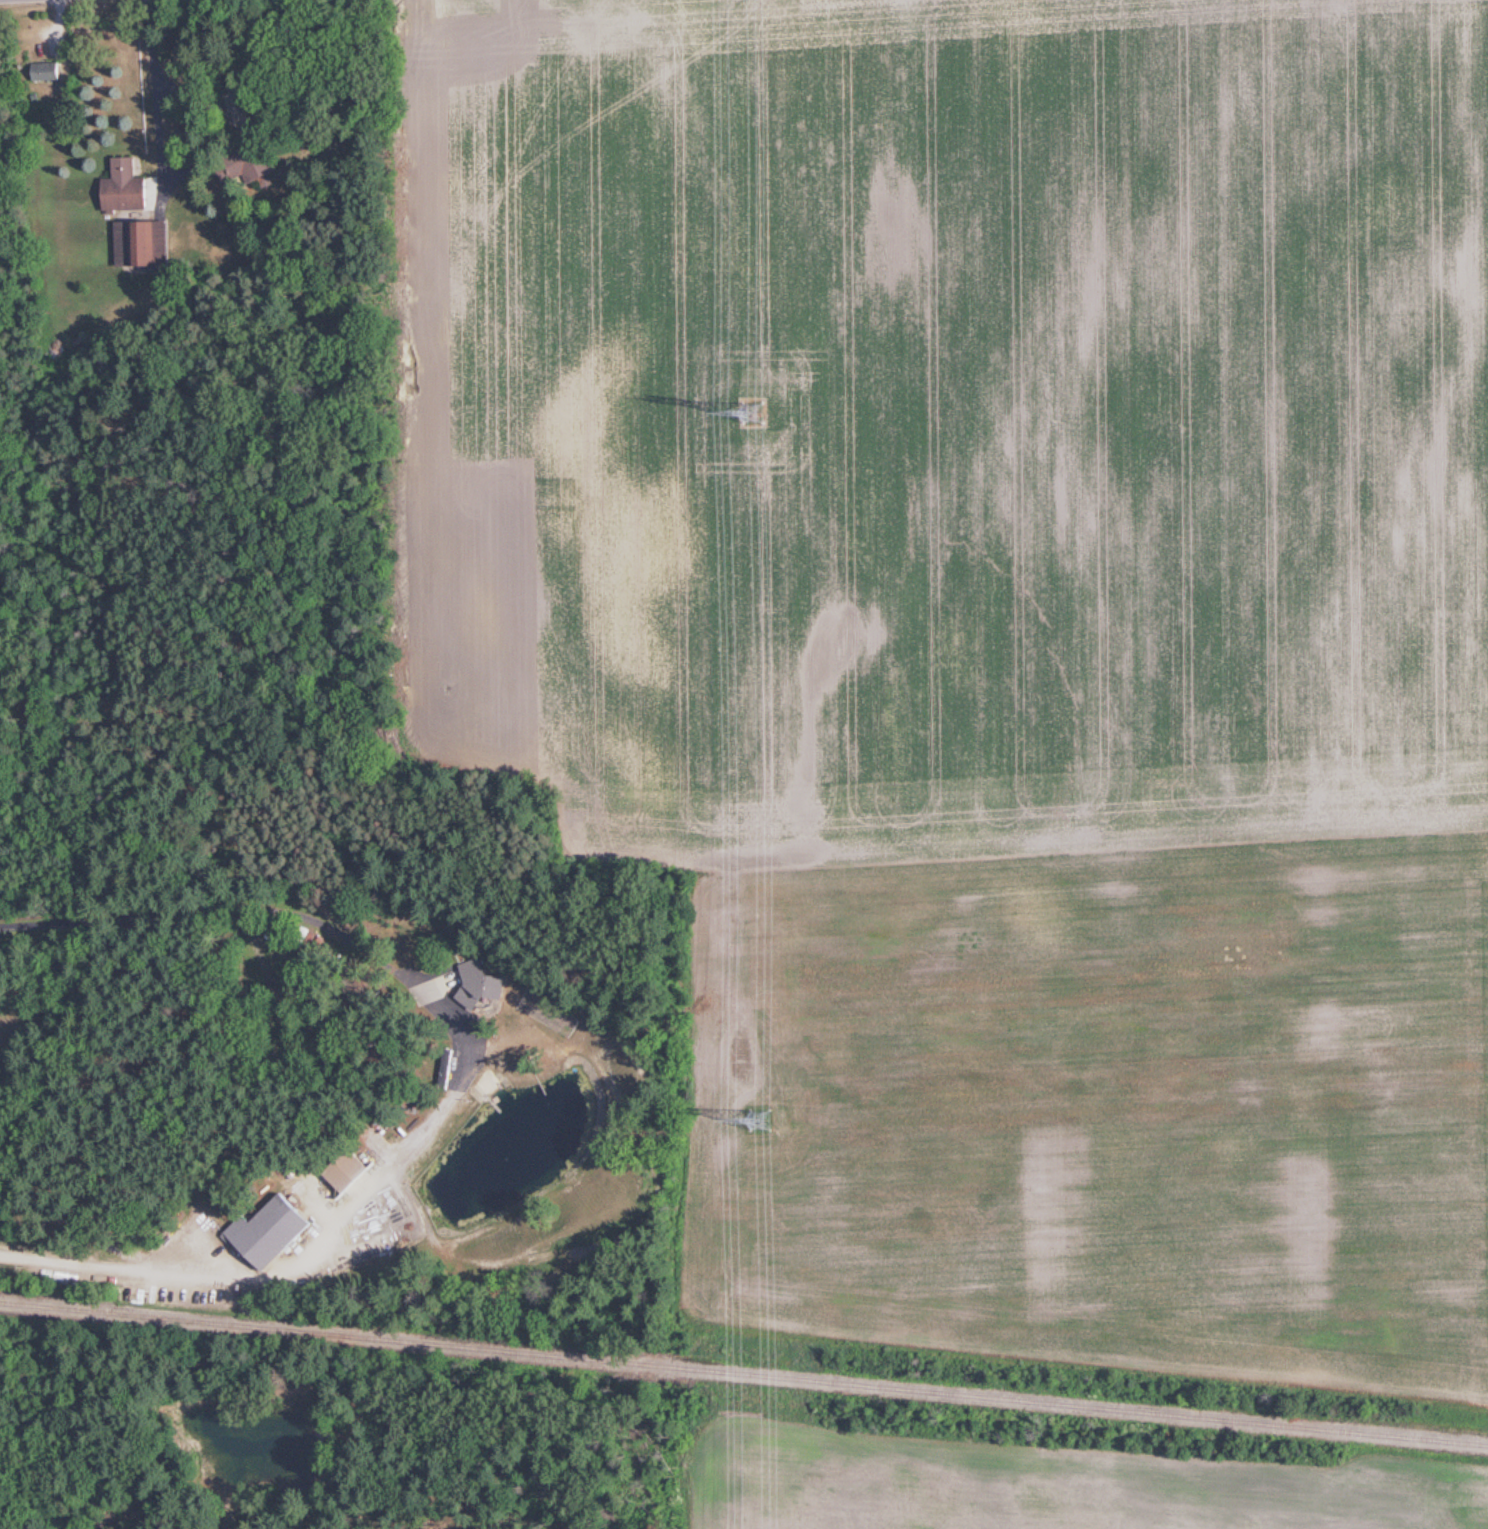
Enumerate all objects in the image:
building: (48, 70)
road: (155, 97)
building: (258, 164)
building: (128, 188)
building: (144, 243)
power tower: (751, 413)
road: (217, 904)
building: (482, 984)
power tower: (758, 1121)
building: (351, 1171)
building: (273, 1230)
road: (199, 1276)
railway: (744, 1374)

